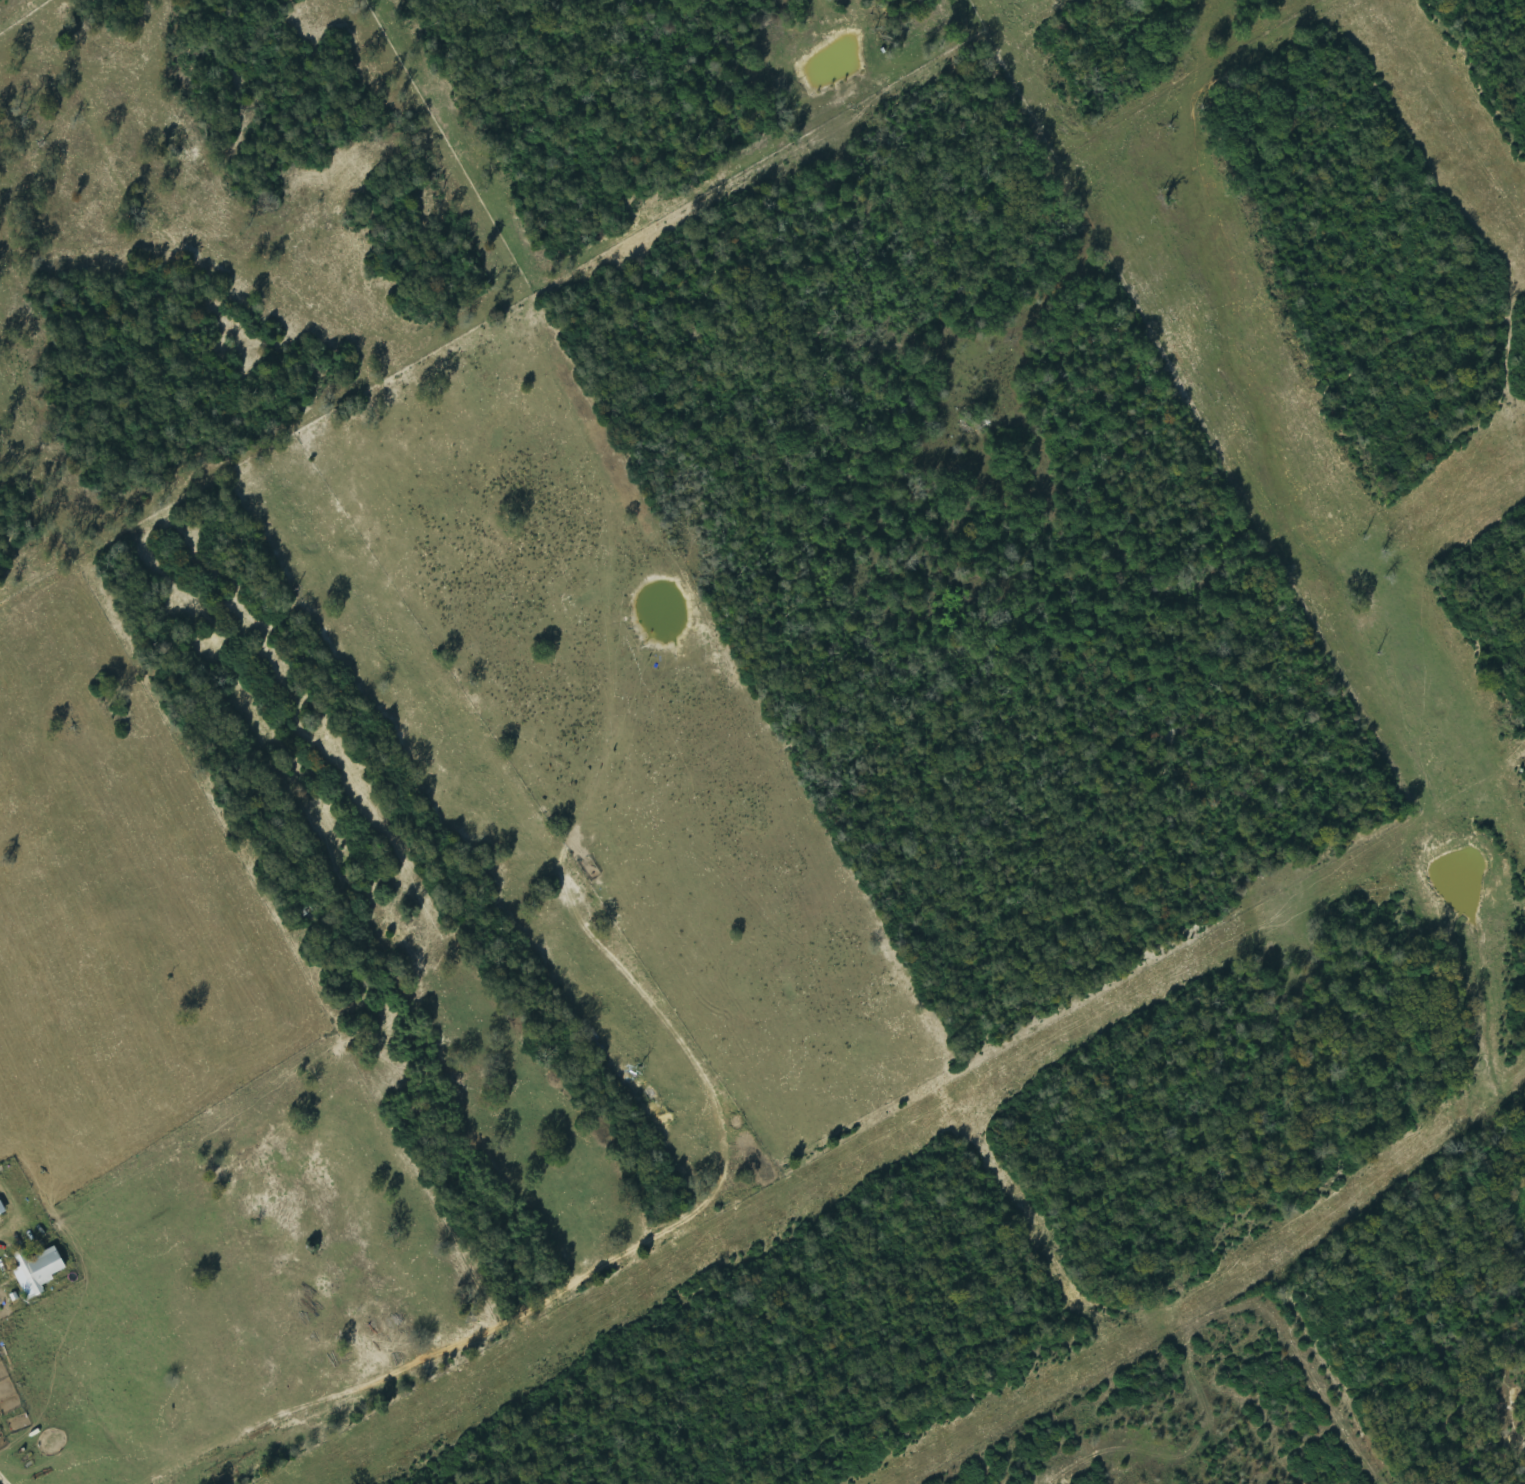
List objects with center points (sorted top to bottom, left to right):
chimney: (964, 54)
building: (3, 1209)
building: (41, 1271)

